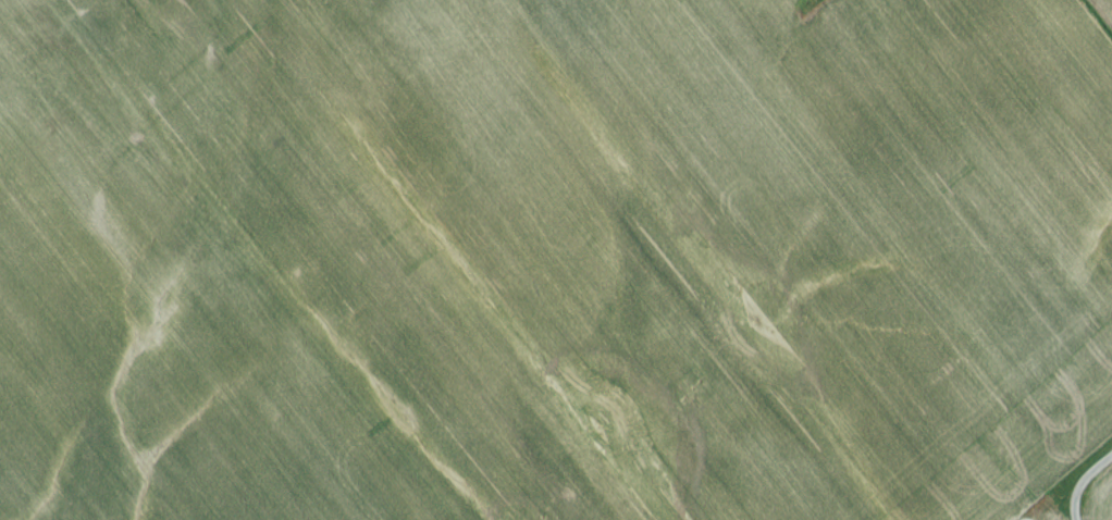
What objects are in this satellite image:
road: (1084, 485)

